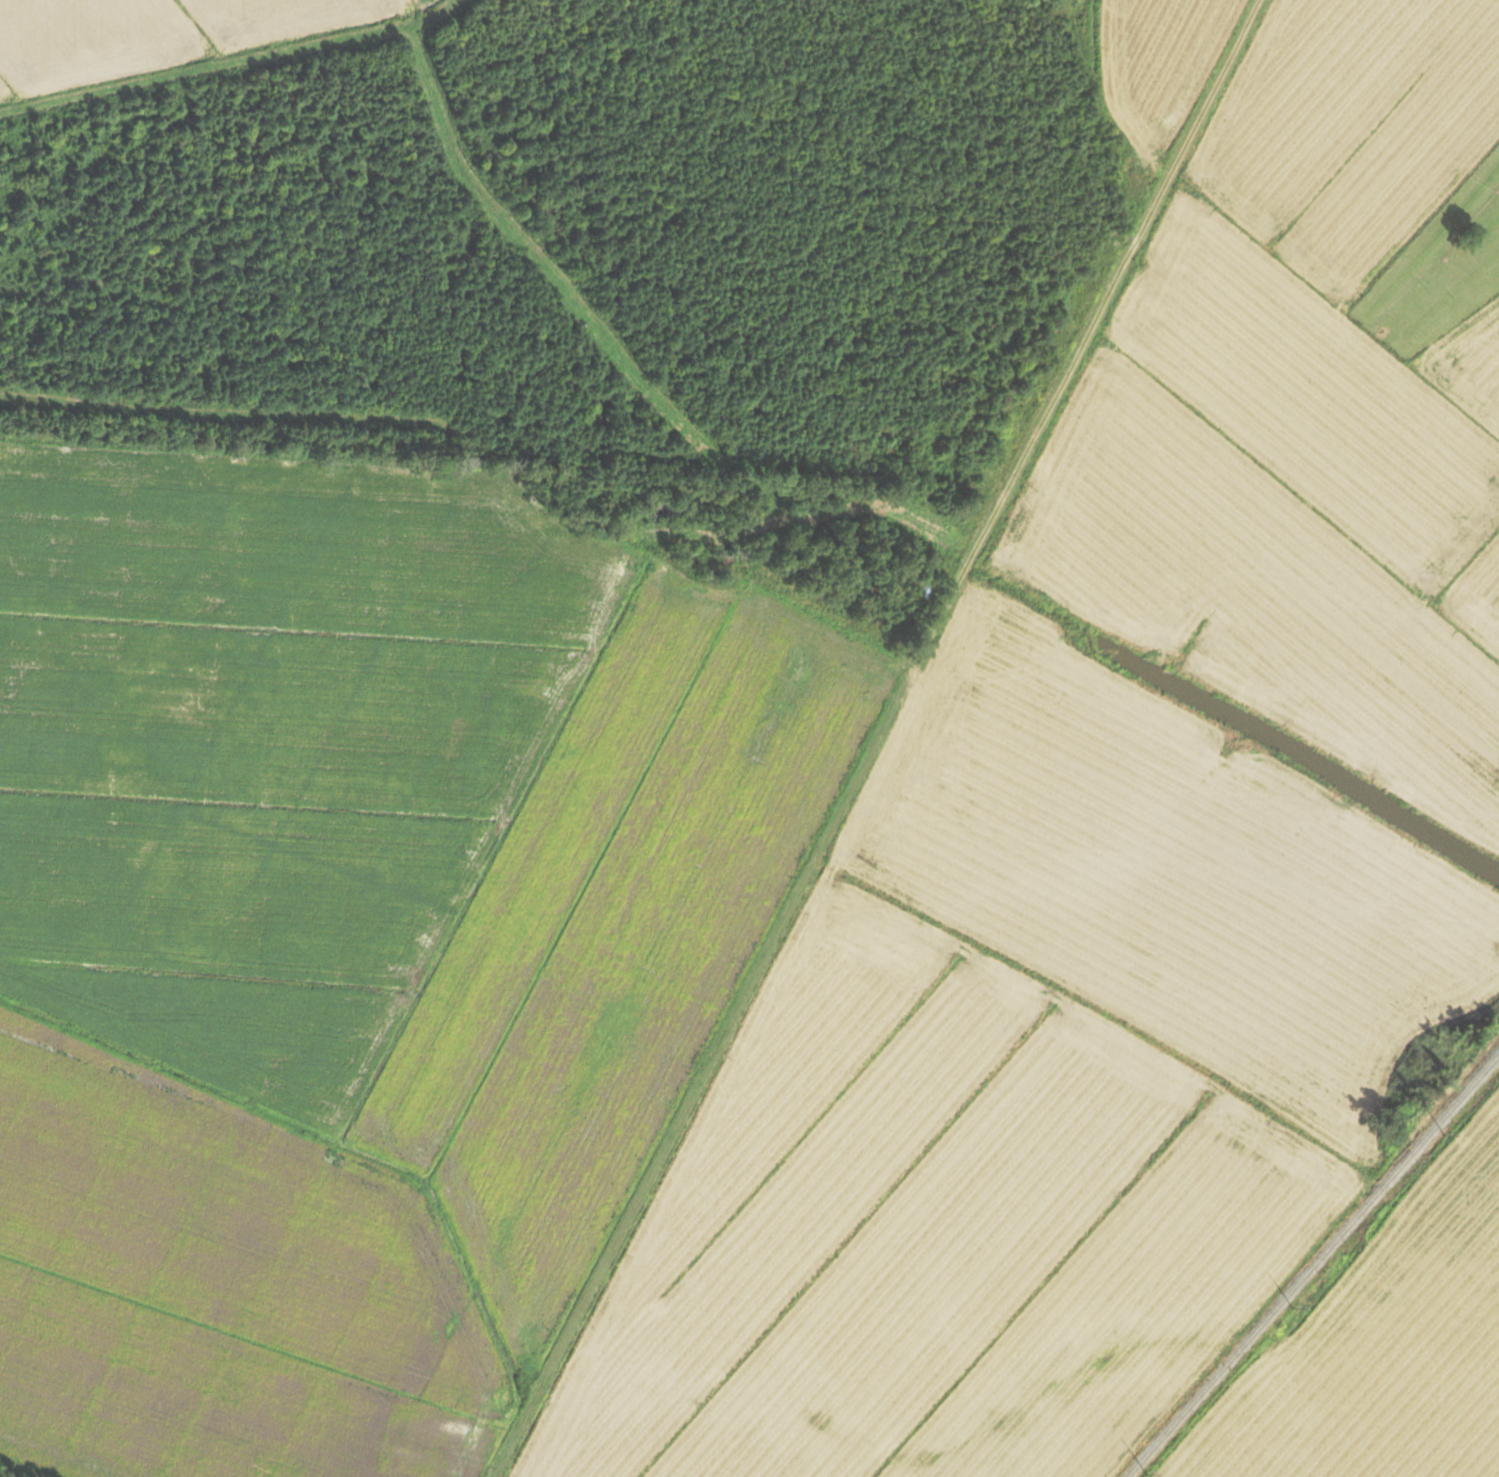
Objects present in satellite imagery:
building: (916, 590)
power tower: (1447, 1134)
railway: (1313, 1267)
power tower: (1295, 1307)
power tower: (1148, 1475)

